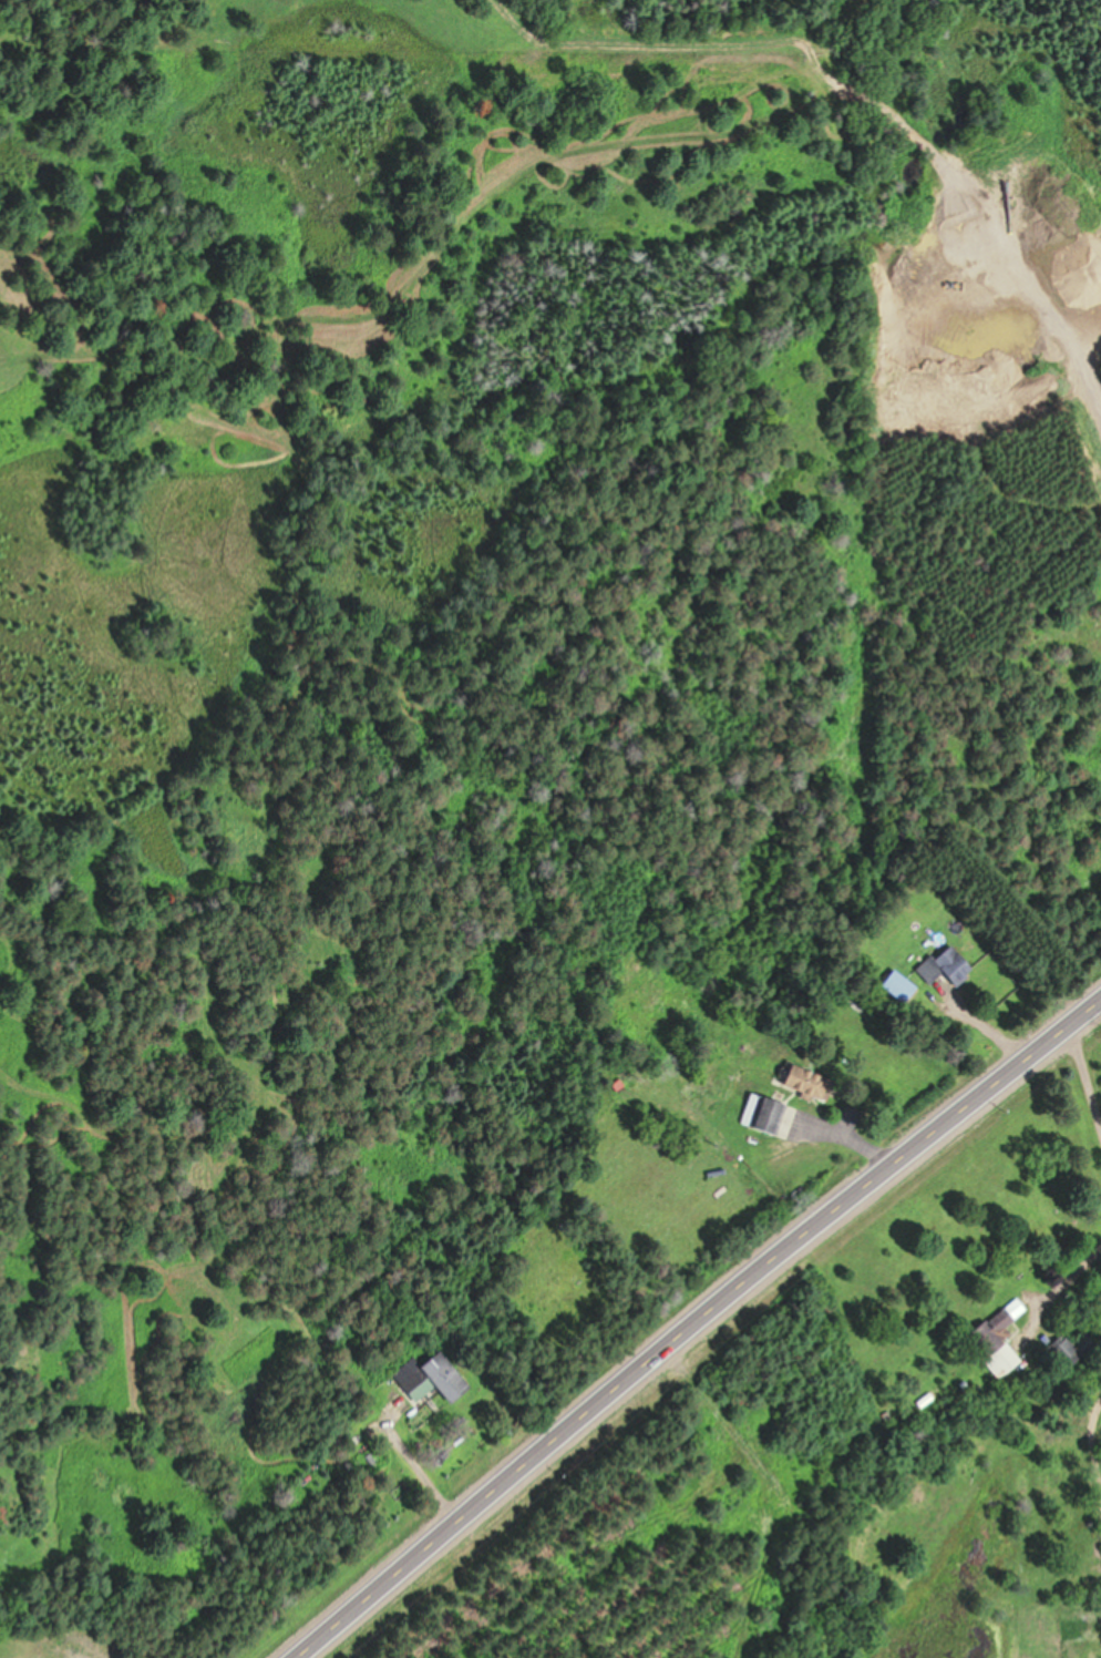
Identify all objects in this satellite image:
building: (945, 965)
building: (805, 1081)
road: (1085, 1084)
building: (763, 1112)
road: (701, 1328)
building: (996, 1338)
building: (1067, 1353)
building: (430, 1375)
road: (1070, 1460)

